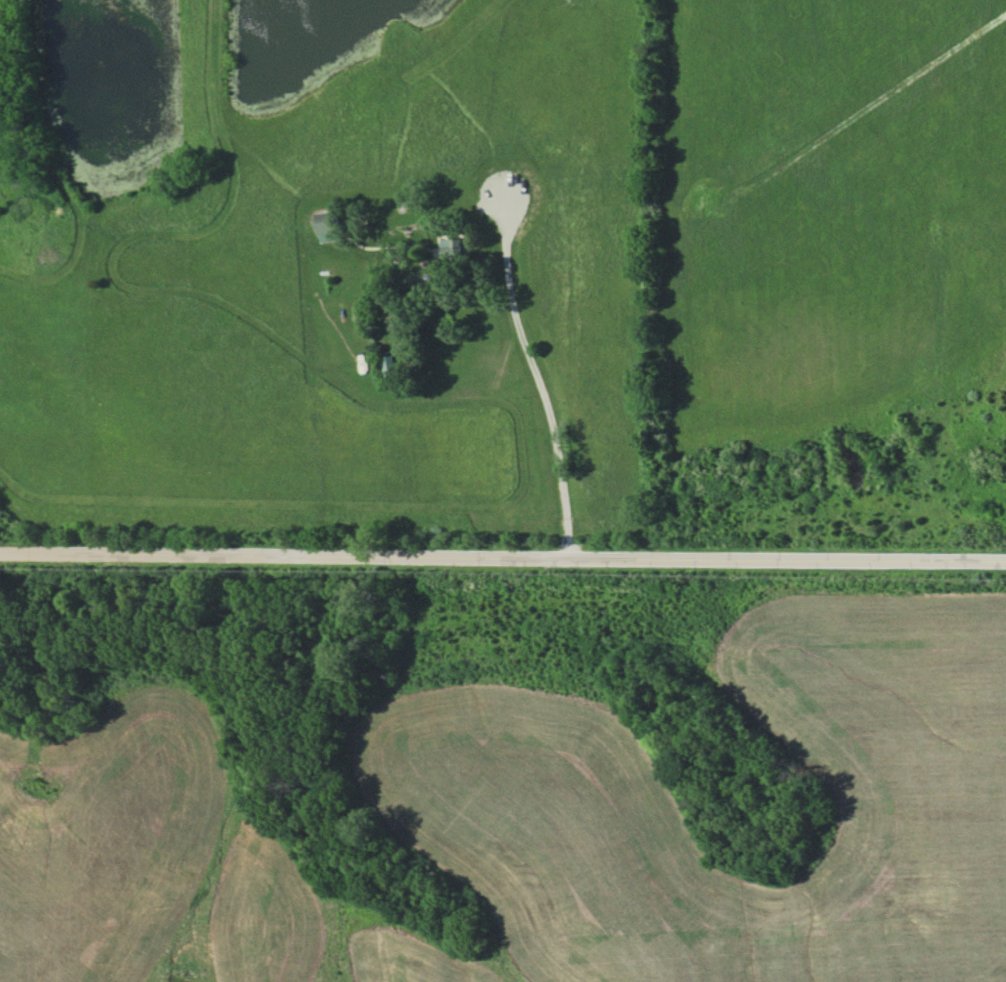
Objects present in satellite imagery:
building: (449, 249)
road: (535, 377)
road: (503, 555)

